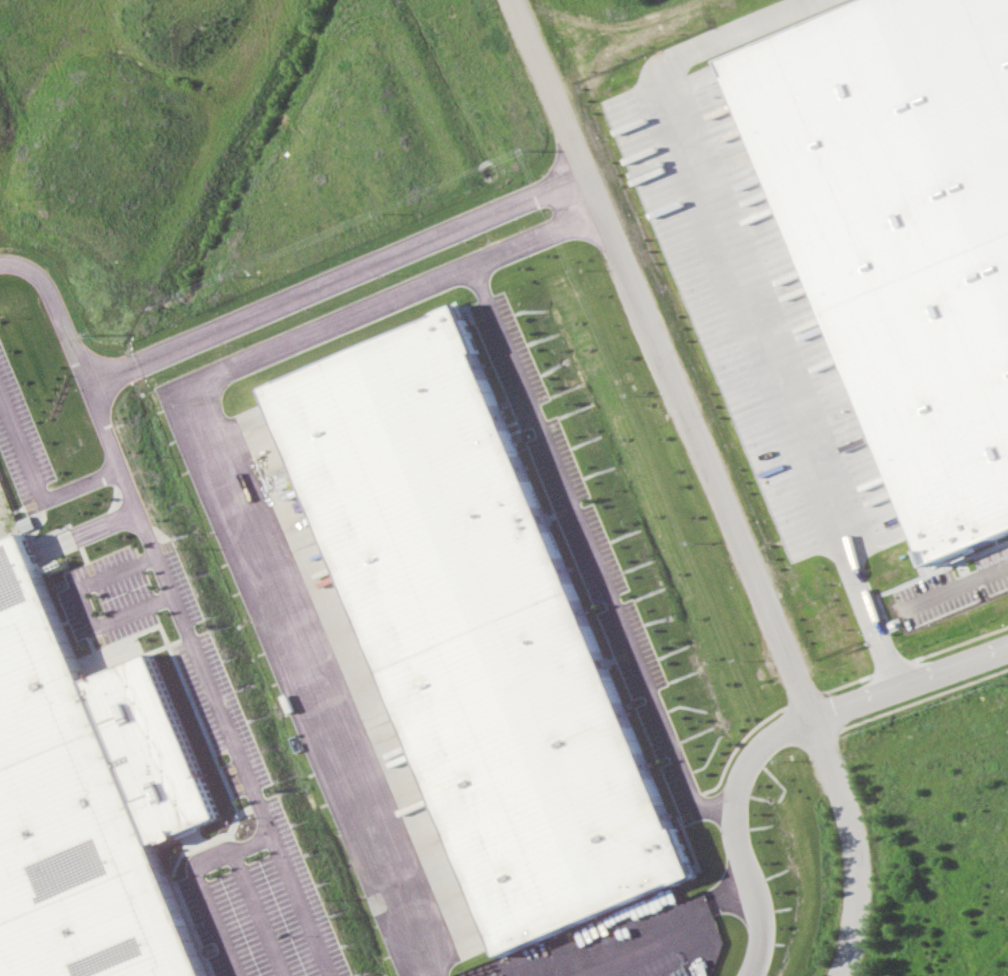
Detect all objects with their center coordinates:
building: (895, 236)
road: (744, 307)
road: (263, 309)
road: (218, 473)
road: (713, 482)
road: (38, 488)
road: (589, 551)
road: (955, 591)
road: (81, 609)
building: (477, 635)
road: (909, 682)
road: (209, 691)
parking lot: (215, 697)
building: (86, 801)
road: (733, 830)
road: (651, 929)

